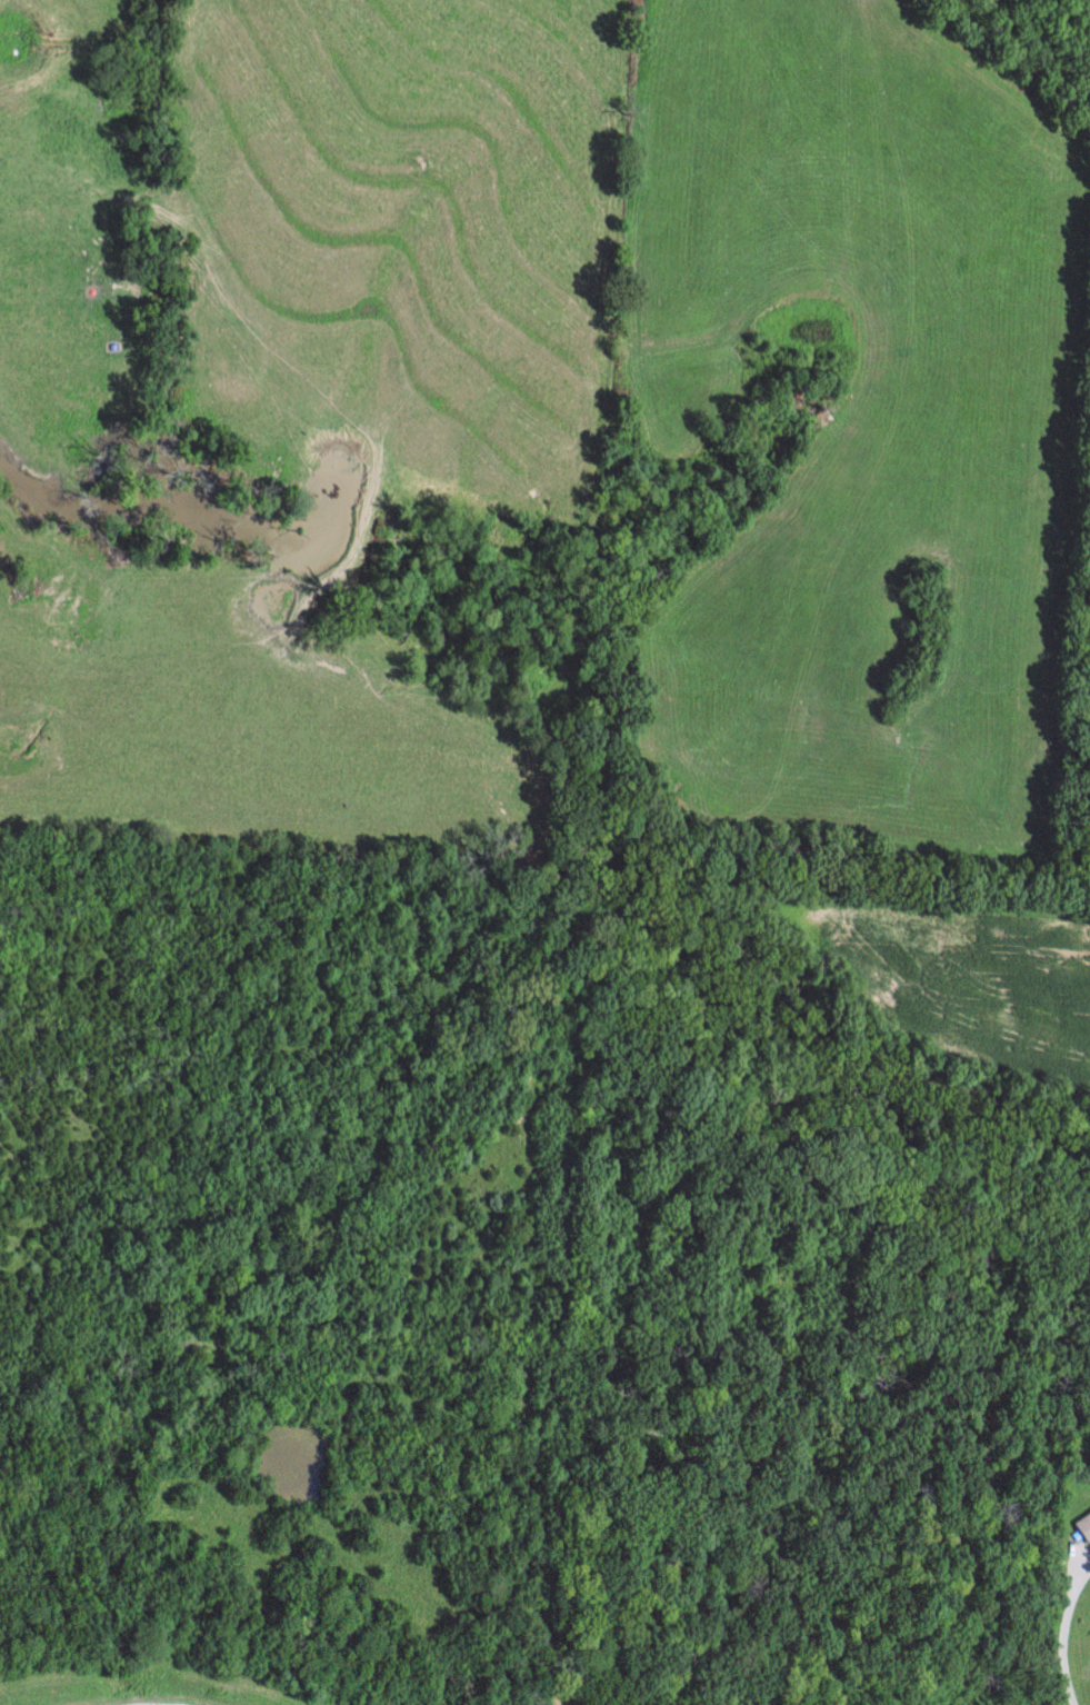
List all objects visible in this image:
building: (1081, 1527)
road: (1063, 1628)

